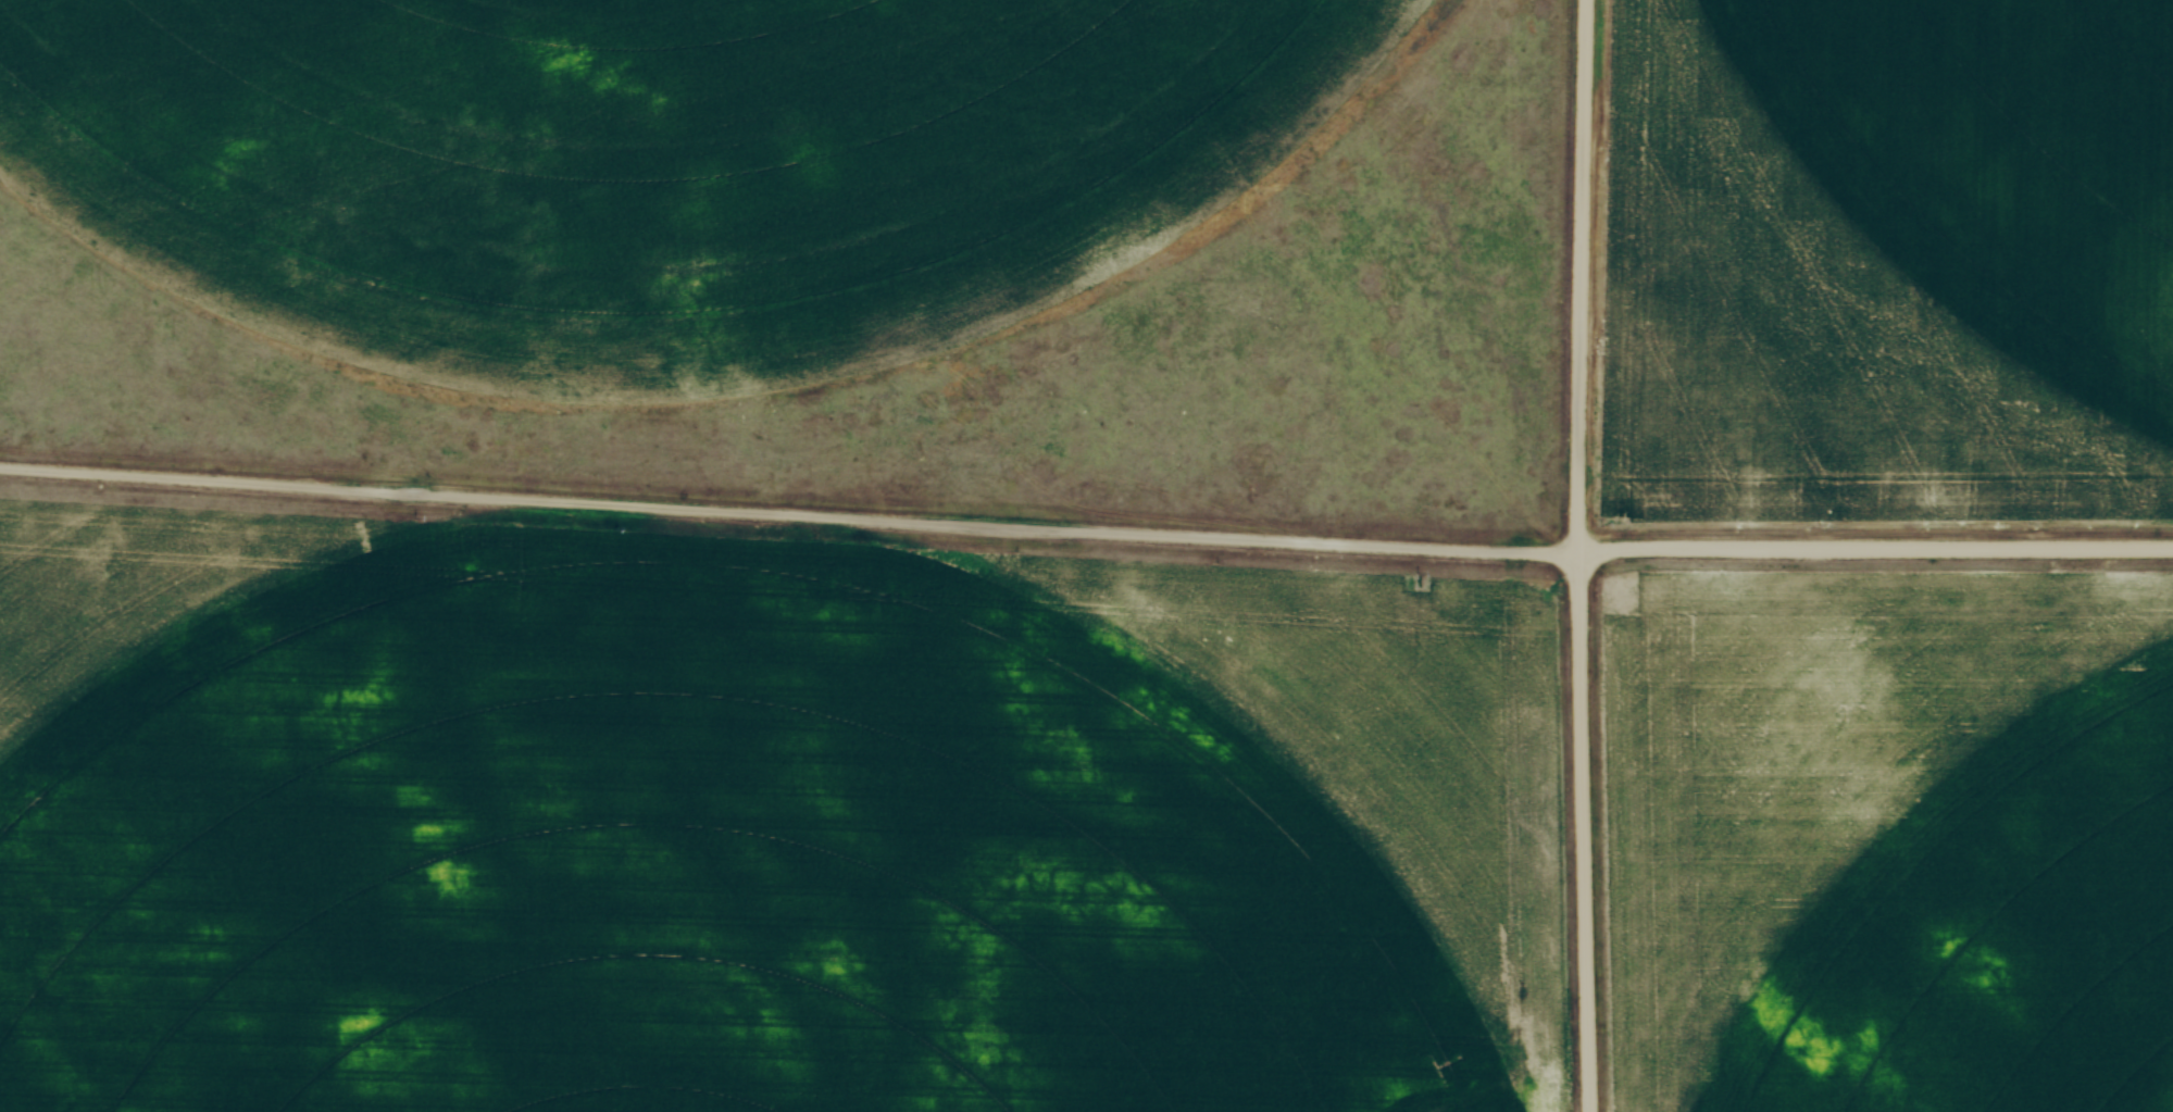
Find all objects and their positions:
crop: (655, 166)
road: (1086, 527)
road: (1579, 555)
crop: (689, 861)

